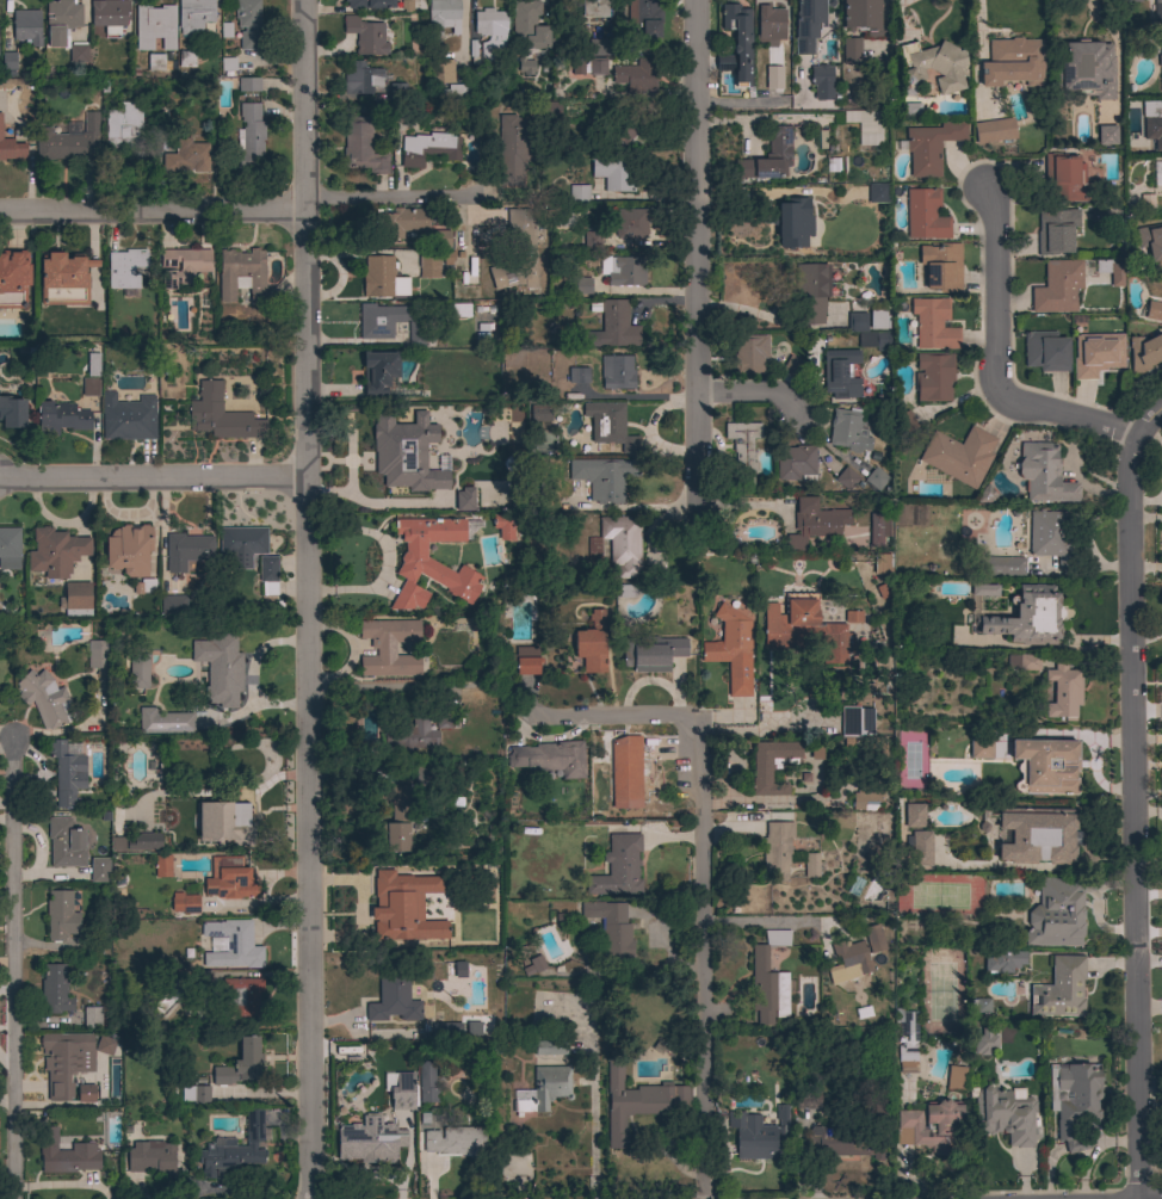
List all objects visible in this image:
building: (1130, 0)
road: (898, 2)
building: (370, 4)
building: (593, 8)
building: (1157, 11)
building: (110, 14)
building: (194, 16)
road: (900, 16)
building: (443, 17)
building: (62, 18)
building: (863, 18)
building: (645, 19)
building: (247, 21)
building: (808, 23)
road: (937, 23)
building: (527, 25)
building: (769, 25)
building: (26, 26)
building: (155, 26)
building: (490, 33)
building: (366, 36)
building: (738, 44)
building: (601, 48)
building: (851, 51)
building: (78, 52)
building: (474, 52)
building: (186, 58)
building: (8, 62)
building: (155, 62)
building: (1013, 62)
building: (723, 63)
building: (1160, 63)
building: (228, 66)
building: (525, 67)
building: (597, 67)
building: (932, 67)
building: (1083, 70)
building: (440, 72)
building: (635, 76)
building: (773, 78)
building: (360, 79)
building: (821, 82)
building: (248, 85)
building: (397, 91)
building: (453, 92)
building: (913, 109)
building: (1152, 122)
building: (123, 126)
building: (865, 126)
building: (620, 131)
building: (994, 131)
building: (1106, 135)
building: (249, 137)
building: (68, 141)
building: (361, 147)
building: (427, 147)
building: (929, 147)
building: (511, 149)
building: (12, 150)
building: (186, 156)
building: (768, 156)
building: (613, 172)
building: (1161, 172)
building: (1065, 178)
road: (384, 192)
building: (878, 192)
building: (579, 193)
building: (1146, 202)
road: (150, 215)
building: (925, 215)
building: (563, 218)
building: (402, 222)
building: (791, 222)
building: (630, 223)
building: (519, 228)
building: (1056, 230)
building: (440, 239)
building: (591, 239)
building: (1150, 240)
road: (699, 254)
building: (428, 264)
building: (183, 266)
building: (941, 266)
building: (125, 268)
building: (623, 270)
building: (1111, 271)
building: (515, 272)
building: (242, 274)
building: (378, 277)
building: (13, 278)
building: (64, 280)
building: (581, 285)
building: (1057, 286)
building: (811, 291)
building: (1154, 310)
building: (878, 319)
building: (857, 322)
building: (391, 323)
building: (611, 325)
building: (932, 325)
building: (873, 340)
building: (1045, 351)
building: (1144, 352)
building: (169, 354)
building: (749, 354)
building: (1096, 354)
building: (93, 365)
building: (792, 366)
road: (997, 369)
building: (378, 371)
building: (617, 372)
building: (840, 373)
building: (579, 375)
building: (933, 377)
building: (91, 387)
road: (754, 396)
building: (12, 413)
building: (539, 413)
building: (221, 415)
building: (61, 418)
building: (128, 418)
building: (904, 422)
building: (610, 428)
building: (846, 429)
building: (406, 455)
building: (746, 455)
building: (959, 456)
building: (376, 458)
building: (795, 462)
building: (1044, 474)
road: (152, 476)
building: (604, 477)
building: (846, 478)
building: (876, 478)
building: (987, 495)
building: (464, 500)
building: (455, 503)
building: (814, 523)
building: (502, 526)
building: (876, 529)
building: (1050, 536)
building: (622, 544)
building: (240, 545)
building: (10, 548)
building: (128, 550)
building: (186, 550)
building: (55, 552)
building: (431, 562)
building: (882, 563)
building: (1001, 567)
building: (267, 574)
building: (144, 586)
building: (984, 589)
building: (625, 591)
building: (75, 599)
road: (304, 599)
building: (173, 605)
building: (853, 617)
building: (1027, 617)
building: (805, 629)
building: (591, 643)
building: (389, 648)
building: (731, 651)
building: (651, 653)
building: (97, 654)
building: (525, 660)
building: (1024, 661)
building: (220, 668)
building: (138, 670)
building: (1063, 691)
building: (43, 698)
building: (443, 718)
road: (612, 718)
building: (855, 721)
building: (163, 722)
building: (413, 735)
building: (981, 744)
building: (816, 755)
building: (550, 758)
building: (1045, 766)
building: (623, 768)
building: (761, 770)
building: (67, 773)
building: (866, 798)
road: (1132, 798)
building: (913, 815)
building: (396, 822)
building: (223, 823)
building: (1036, 835)
building: (147, 841)
building: (66, 843)
building: (920, 848)
building: (777, 849)
building: (812, 864)
building: (162, 866)
building: (618, 867)
building: (99, 870)
building: (229, 879)
building: (185, 903)
building: (395, 911)
building: (1056, 914)
building: (61, 916)
road: (761, 920)
building: (611, 933)
building: (873, 938)
building: (234, 945)
road: (701, 959)
building: (848, 962)
building: (1003, 962)
building: (533, 965)
building: (459, 970)
road: (13, 971)
building: (768, 981)
building: (55, 989)
building: (1059, 989)
building: (242, 997)
building: (393, 999)
building: (981, 1006)
building: (92, 1018)
building: (909, 1032)
building: (984, 1042)
building: (105, 1045)
building: (550, 1047)
building: (66, 1062)
building: (240, 1064)
building: (908, 1067)
building: (954, 1077)
building: (427, 1082)
building: (545, 1089)
building: (196, 1092)
building: (402, 1092)
building: (86, 1094)
building: (806, 1100)
building: (1074, 1100)
building: (636, 1102)
building: (879, 1112)
building: (1005, 1115)
building: (931, 1127)
building: (758, 1135)
road: (592, 1137)
building: (370, 1141)
building: (456, 1142)
building: (846, 1143)
building: (234, 1149)
building: (66, 1154)
building: (152, 1156)

